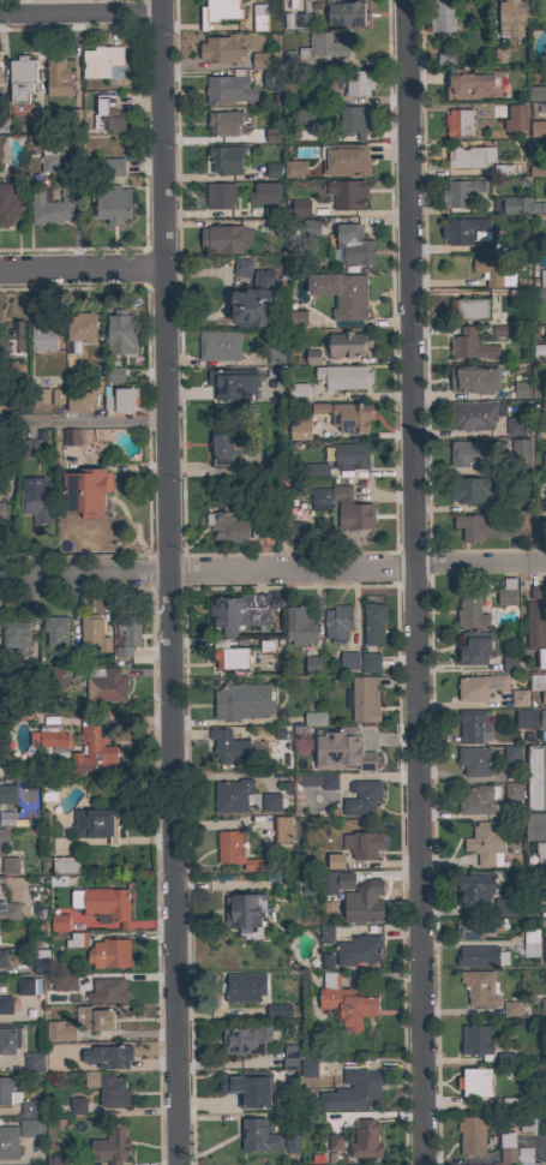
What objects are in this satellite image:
building: (538, 6)
building: (220, 12)
road: (82, 13)
building: (302, 14)
building: (346, 14)
building: (259, 17)
building: (442, 17)
building: (510, 18)
building: (221, 49)
building: (316, 49)
building: (499, 55)
building: (445, 59)
building: (100, 60)
building: (259, 60)
building: (0, 78)
building: (20, 78)
building: (58, 78)
building: (269, 78)
building: (470, 82)
building: (358, 83)
building: (228, 89)
building: (536, 100)
building: (498, 110)
building: (107, 114)
building: (308, 115)
building: (74, 118)
building: (353, 120)
building: (512, 120)
building: (224, 123)
building: (458, 123)
building: (2, 125)
building: (535, 131)
building: (271, 133)
building: (262, 138)
building: (0, 144)
building: (468, 157)
building: (226, 159)
building: (48, 160)
building: (346, 160)
building: (113, 167)
building: (505, 168)
building: (295, 169)
building: (271, 171)
building: (458, 192)
building: (264, 193)
building: (220, 195)
building: (348, 195)
building: (8, 203)
building: (112, 203)
building: (515, 205)
building: (52, 207)
building: (301, 208)
building: (538, 208)
building: (274, 210)
building: (463, 229)
building: (292, 232)
building: (224, 239)
building: (491, 245)
building: (352, 246)
road: (83, 267)
building: (241, 267)
building: (493, 273)
building: (542, 277)
building: (342, 294)
building: (253, 300)
building: (470, 309)
building: (296, 317)
building: (79, 330)
building: (119, 333)
building: (494, 335)
building: (43, 336)
building: (12, 340)
building: (348, 343)
building: (470, 345)
building: (218, 346)
building: (539, 349)
building: (275, 357)
building: (313, 357)
building: (115, 375)
building: (343, 377)
building: (474, 378)
building: (233, 383)
building: (521, 389)
building: (298, 392)
building: (41, 396)
building: (56, 396)
building: (120, 399)
building: (79, 401)
building: (540, 408)
building: (473, 414)
building: (346, 416)
road: (84, 424)
building: (299, 425)
building: (515, 426)
building: (71, 437)
building: (224, 447)
building: (26, 449)
building: (467, 454)
building: (350, 455)
building: (544, 462)
building: (314, 470)
building: (469, 490)
building: (86, 491)
building: (320, 497)
building: (35, 500)
building: (498, 503)
building: (0, 508)
building: (350, 508)
building: (228, 524)
building: (540, 525)
building: (484, 527)
building: (258, 531)
building: (290, 532)
road: (272, 568)
road: (170, 582)
road: (413, 582)
building: (506, 592)
building: (538, 592)
building: (470, 609)
building: (238, 613)
building: (373, 622)
building: (337, 623)
building: (299, 626)
building: (55, 631)
building: (535, 631)
building: (94, 632)
building: (127, 634)
building: (16, 635)
building: (475, 646)
building: (229, 655)
building: (71, 658)
building: (348, 661)
building: (370, 662)
building: (509, 663)
building: (312, 664)
building: (59, 677)
building: (536, 681)
building: (106, 686)
building: (479, 687)
building: (518, 697)
building: (542, 697)
building: (362, 699)
building: (241, 701)
building: (17, 713)
building: (314, 718)
building: (524, 718)
building: (542, 719)
building: (474, 727)
building: (49, 739)
building: (227, 746)
building: (365, 749)
building: (92, 751)
building: (338, 751)
building: (511, 753)
building: (473, 760)
building: (534, 778)
building: (319, 781)
building: (48, 789)
building: (512, 790)
building: (7, 794)
building: (233, 795)
building: (362, 797)
building: (479, 800)
building: (270, 802)
building: (96, 824)
building: (534, 826)
building: (282, 829)
building: (4, 837)
building: (362, 844)
building: (485, 844)
building: (235, 850)
building: (540, 853)
building: (335, 861)
building: (10, 865)
building: (64, 865)
building: (344, 880)
building: (326, 883)
building: (474, 888)
building: (362, 904)
building: (107, 906)
building: (502, 907)
building: (11, 912)
building: (246, 913)
building: (59, 922)
building: (473, 928)
building: (326, 933)
building: (78, 939)
building: (530, 943)
building: (358, 950)
building: (544, 951)
building: (109, 954)
building: (474, 956)
building: (2, 958)
building: (40, 961)
building: (544, 974)
building: (67, 982)
building: (26, 986)
building: (244, 987)
building: (479, 987)
building: (109, 990)
building: (344, 1002)
building: (5, 1005)
building: (545, 1005)
building: (510, 1009)
building: (278, 1010)
building: (92, 1018)
building: (59, 1030)
building: (8, 1039)
building: (246, 1039)
building: (476, 1042)
building: (108, 1056)
building: (292, 1056)
building: (505, 1058)
building: (34, 1062)
building: (91, 1079)
building: (269, 1081)
building: (475, 1082)
building: (5, 1089)
building: (244, 1091)
building: (113, 1092)
building: (354, 1092)
building: (224, 1104)
building: (511, 1104)
building: (77, 1106)
building: (28, 1107)
building: (527, 1124)
building: (30, 1128)
building: (472, 1135)
building: (258, 1136)
building: (365, 1141)
building: (292, 1142)
building: (335, 1142)
building: (8, 1143)
building: (110, 1146)
building: (512, 1149)
building: (58, 1160)

